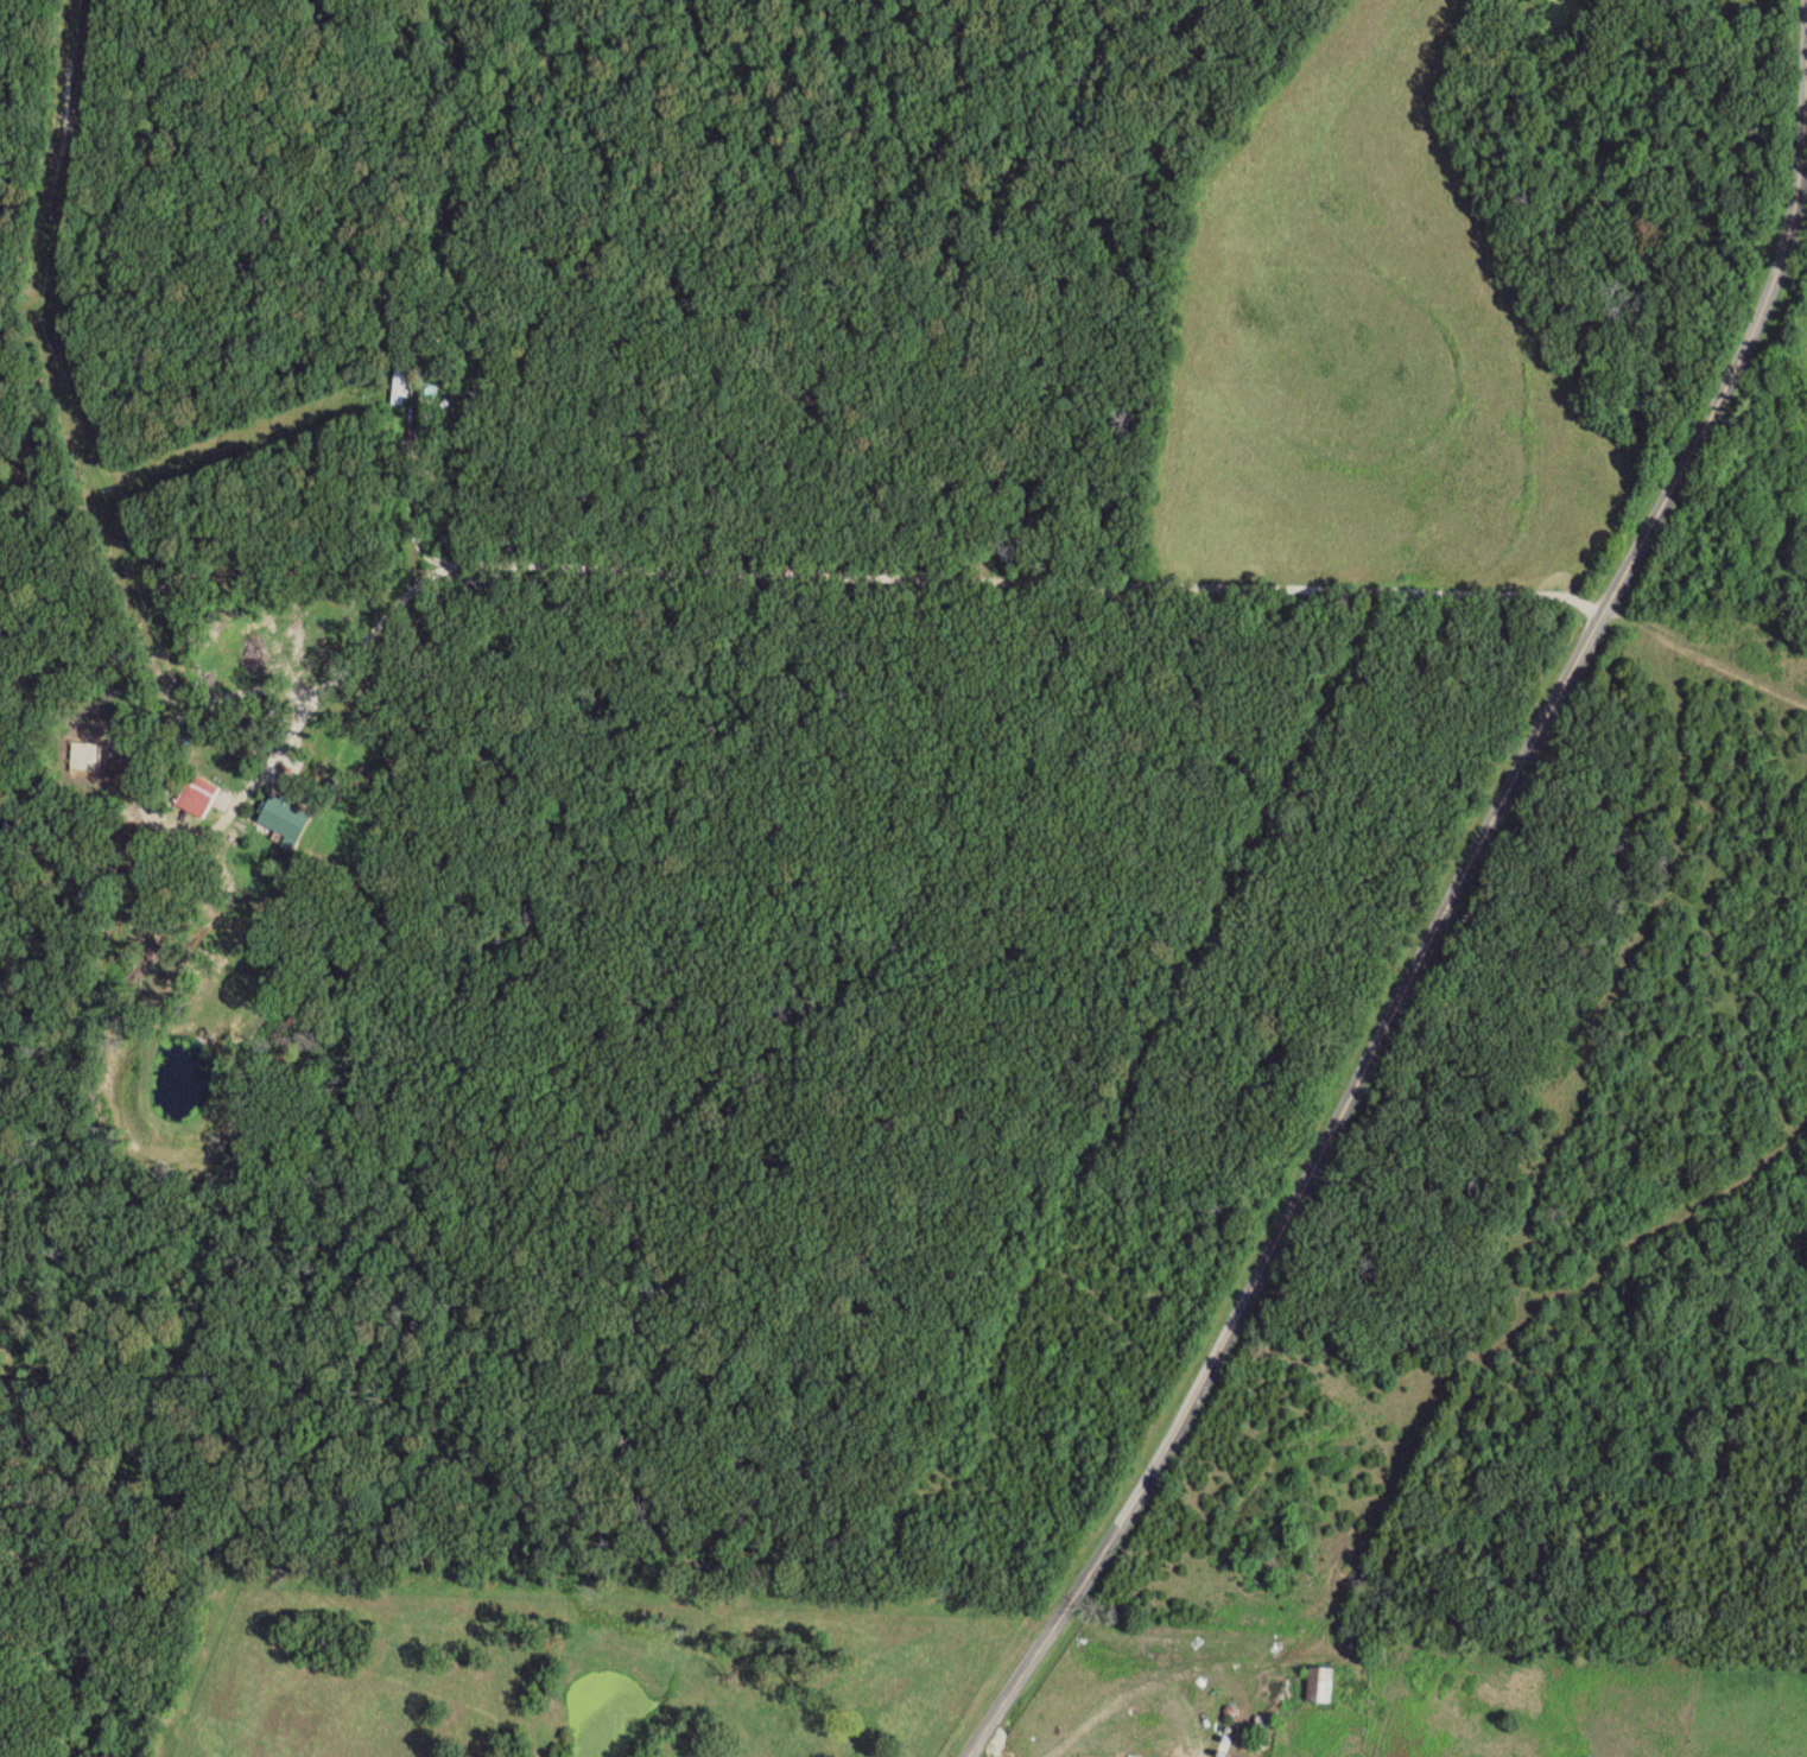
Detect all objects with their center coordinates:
building: (402, 386)
road: (1705, 655)
building: (199, 797)
building: (286, 818)
road: (1422, 965)
building: (1324, 1683)
building: (1197, 1756)

